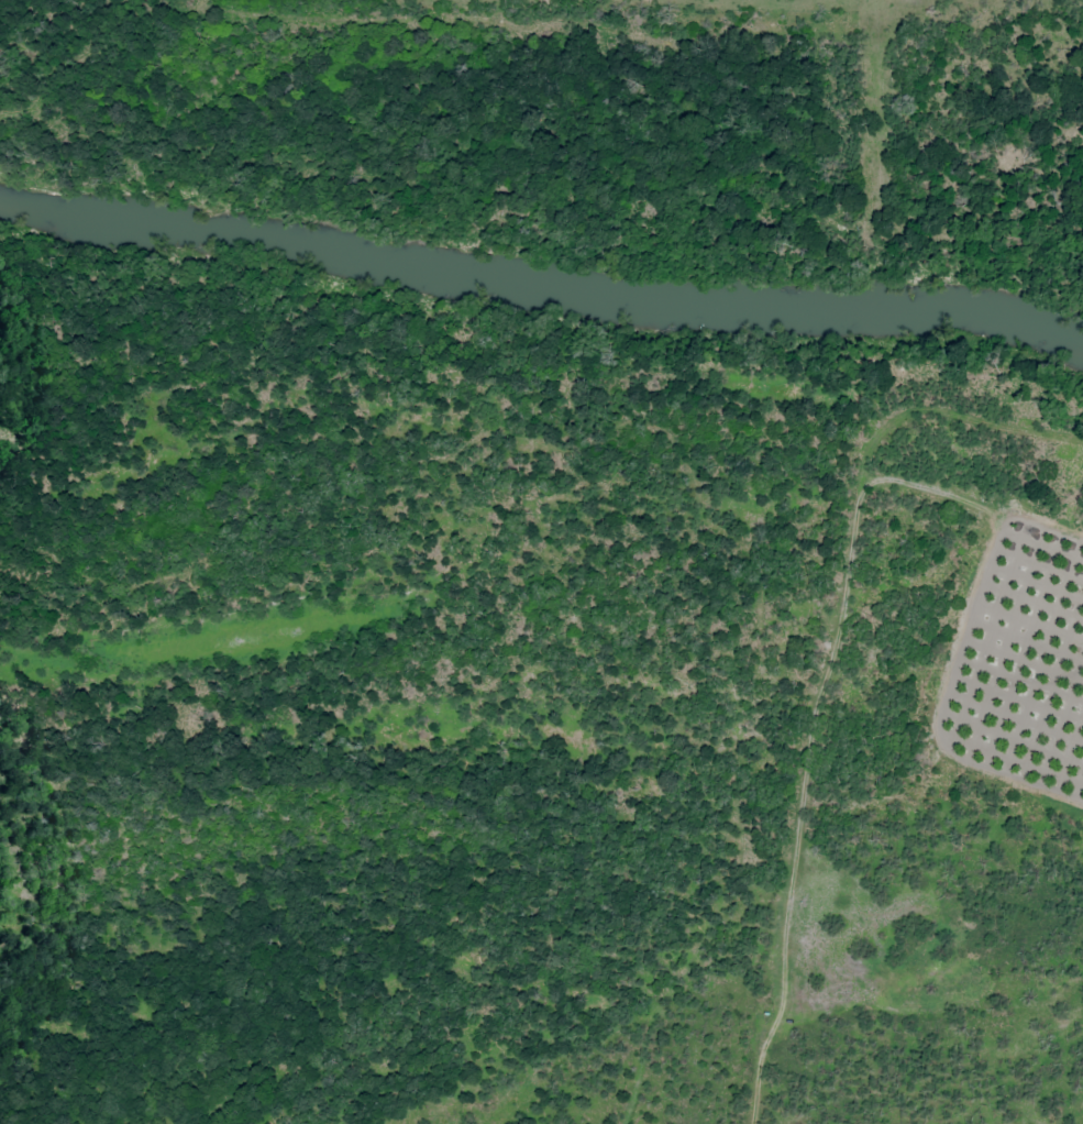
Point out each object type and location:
river: (542, 282)
road: (1036, 453)

